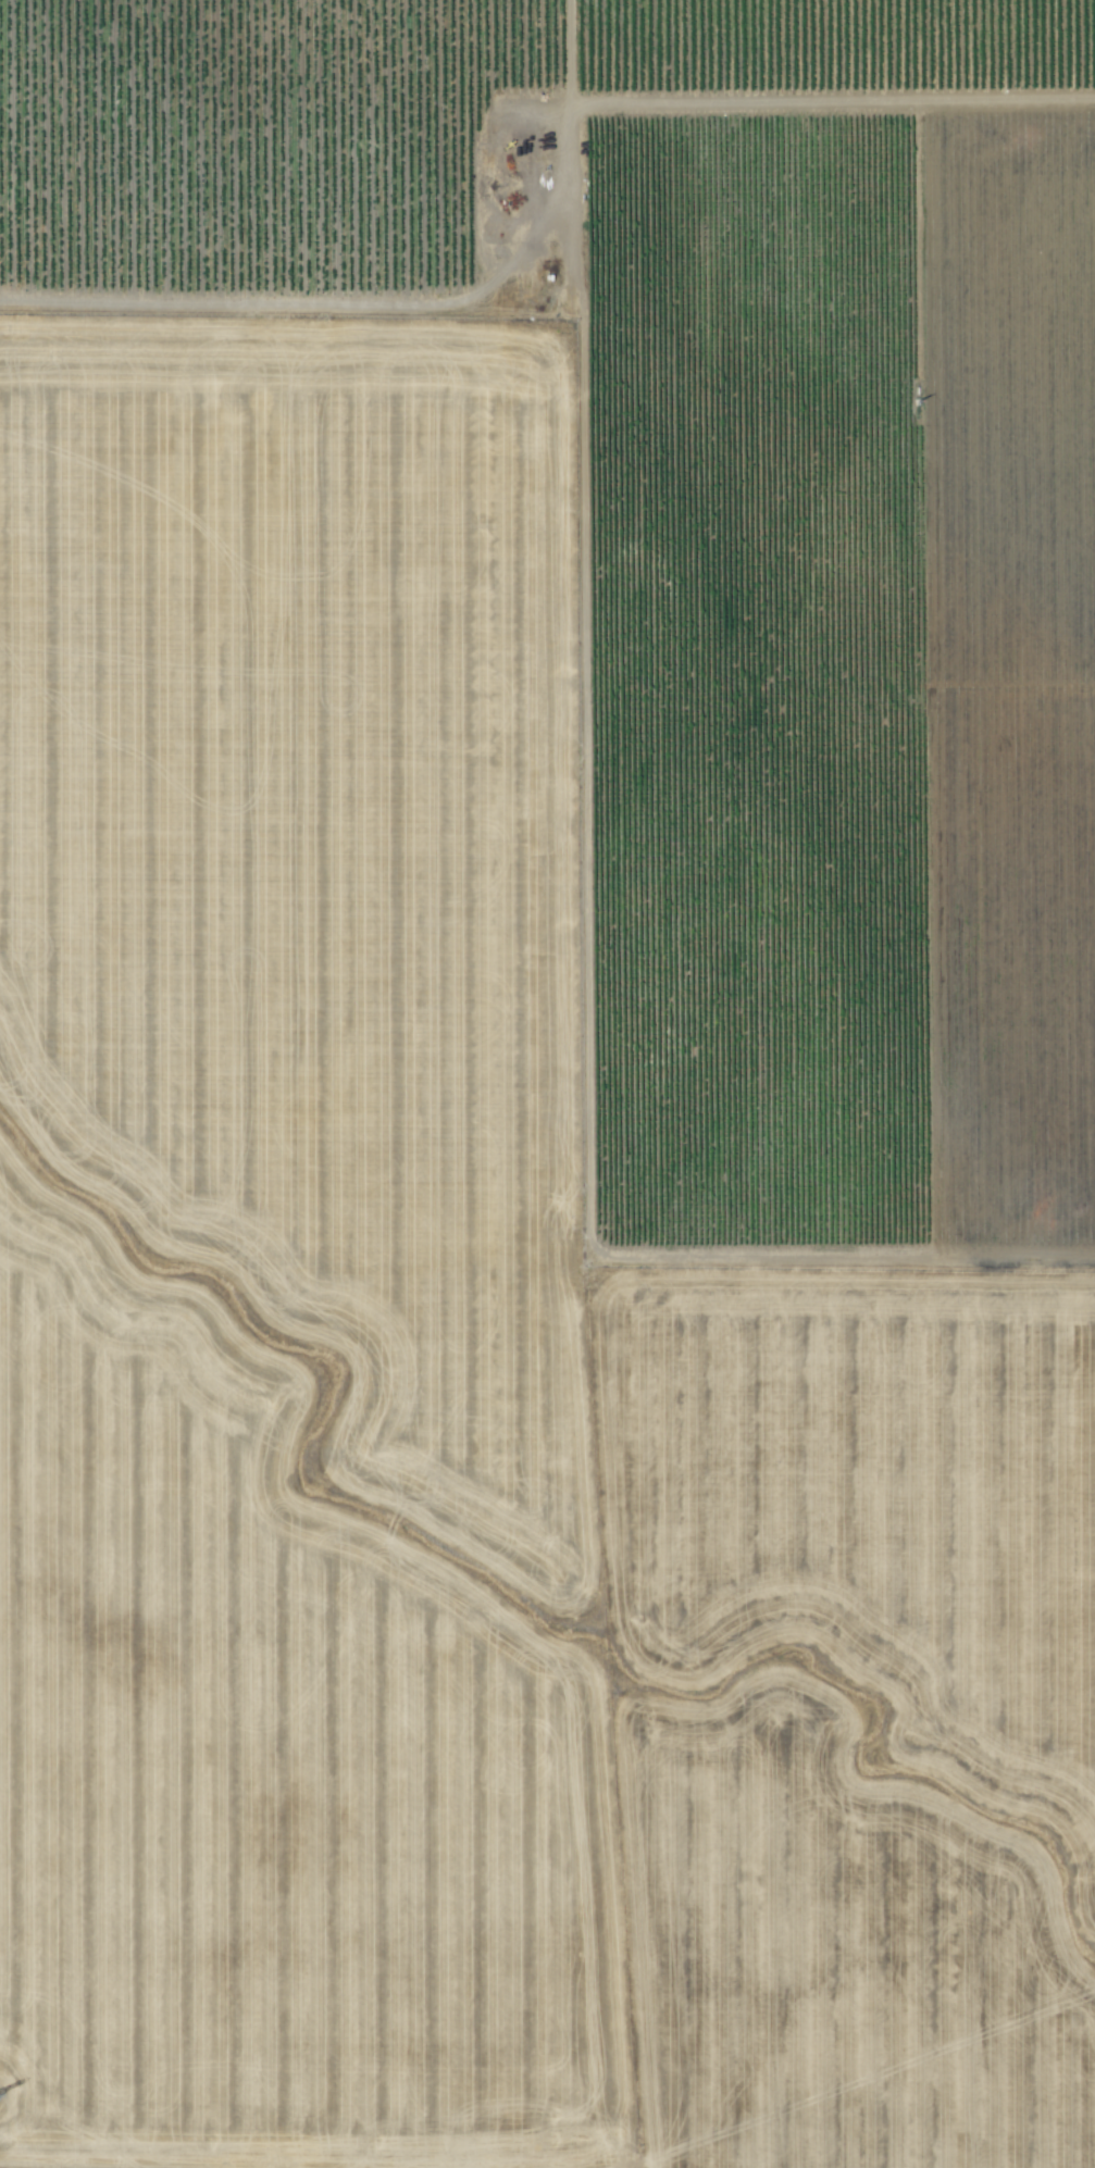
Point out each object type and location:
road: (657, 103)

